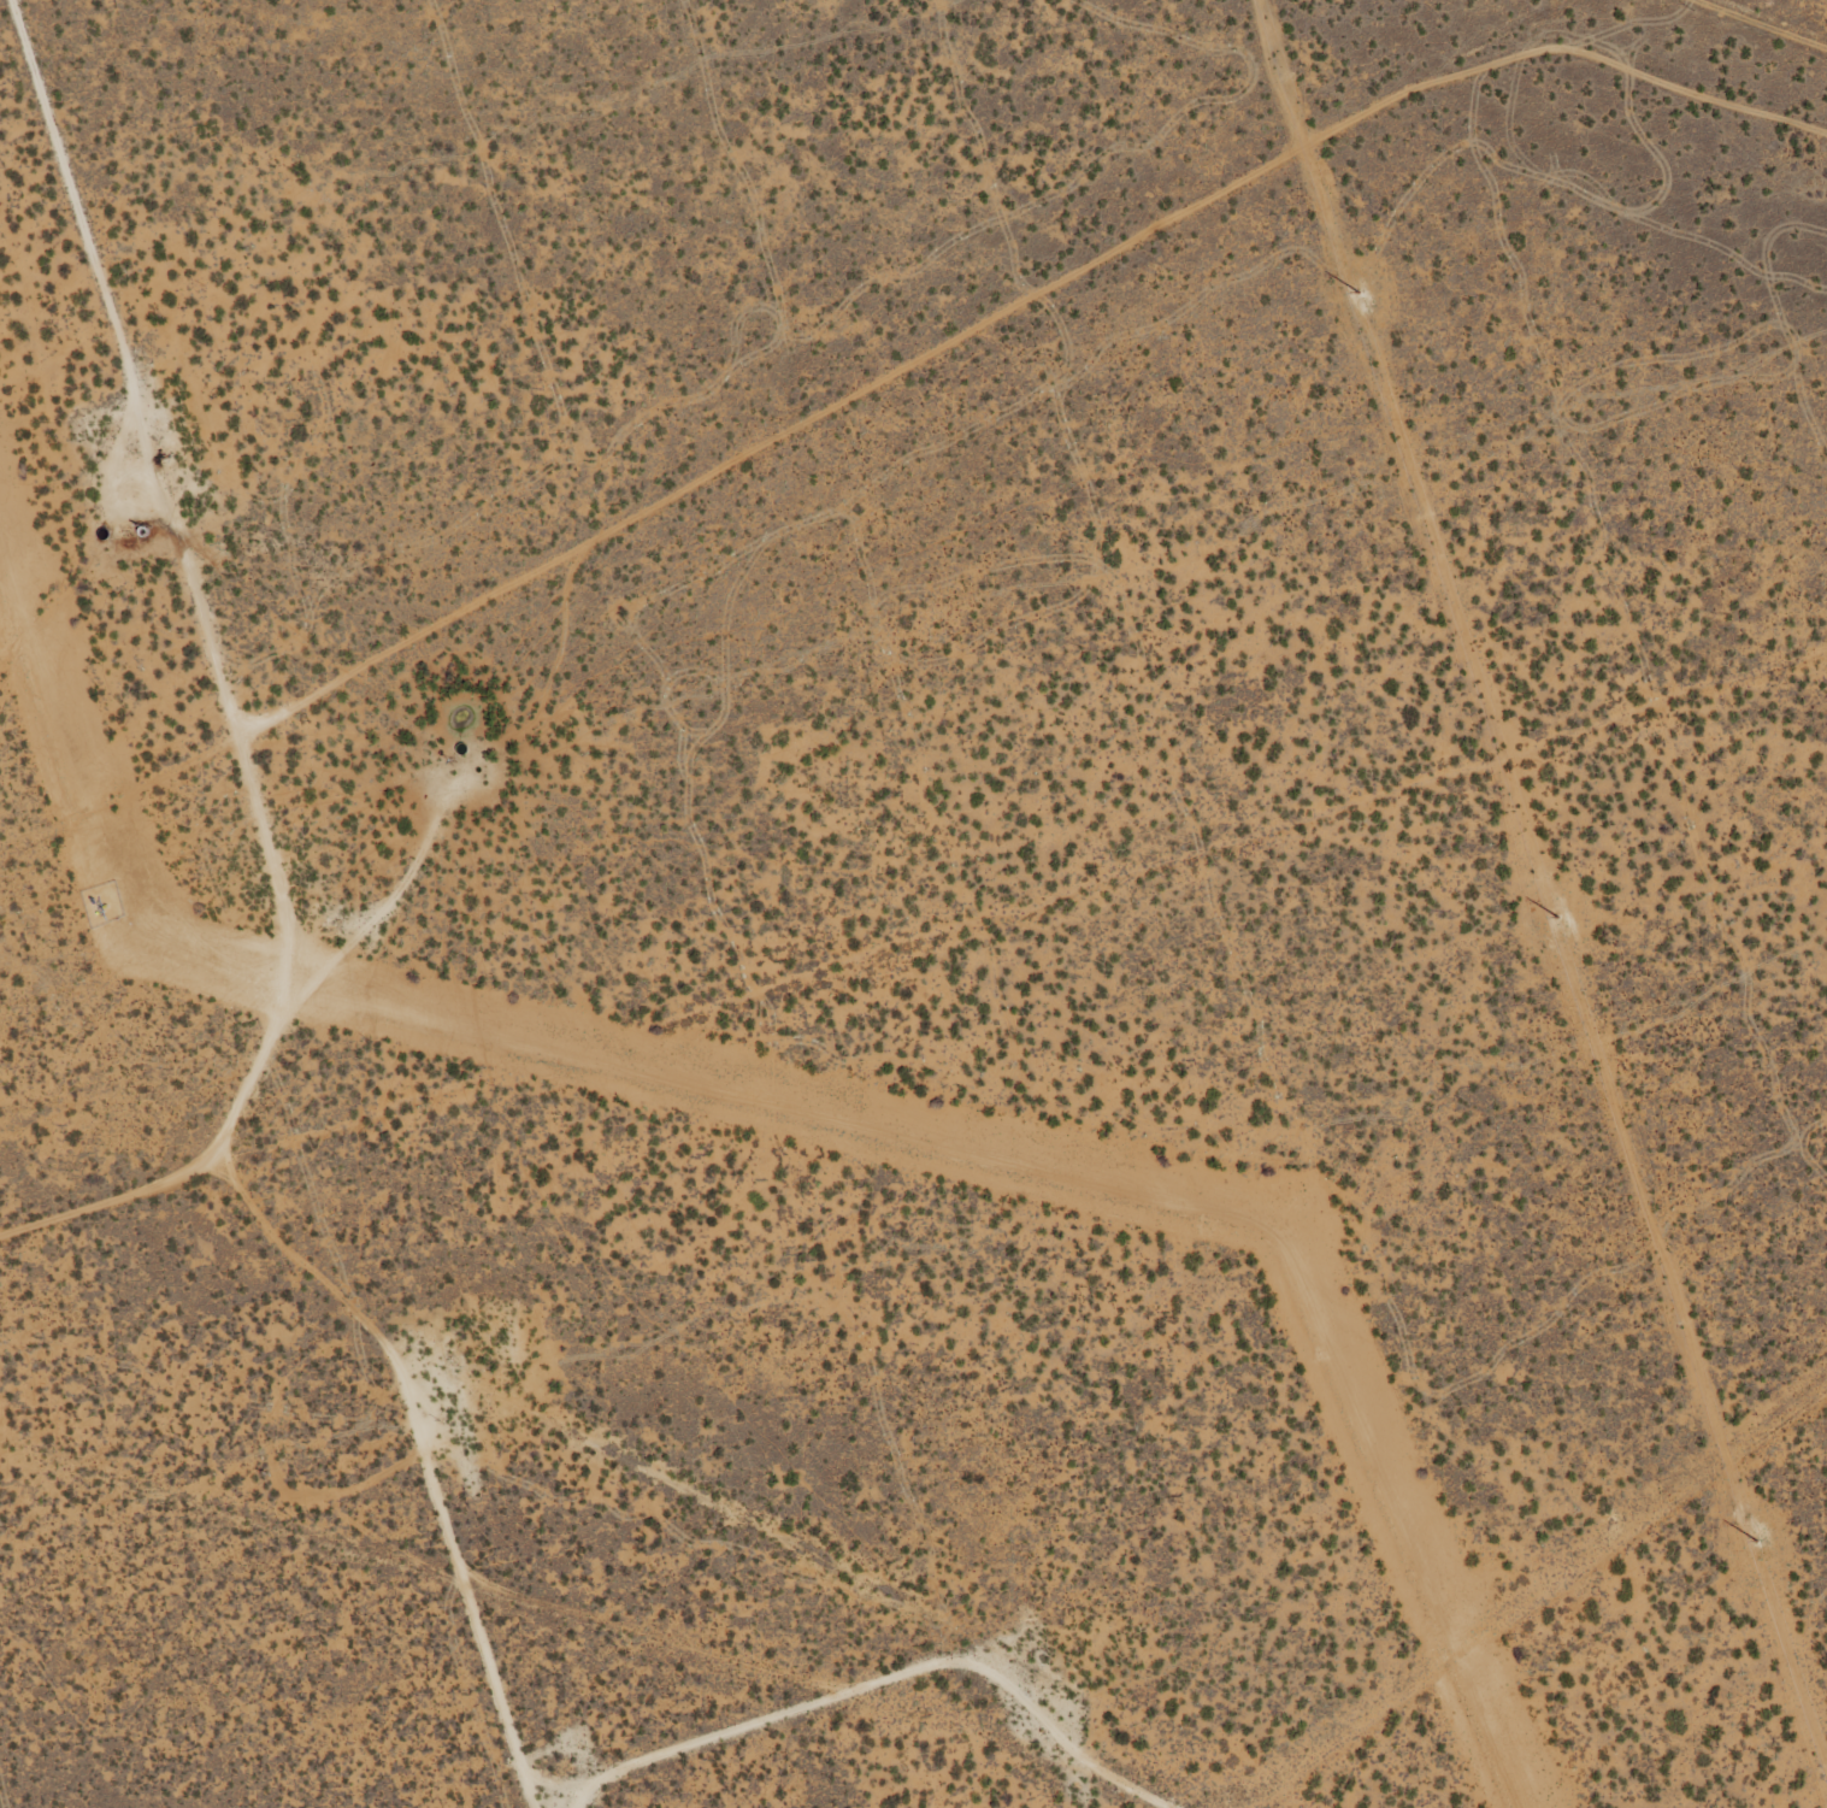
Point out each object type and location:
road: (223, 688)
road: (401, 1606)
road: (837, 1692)

